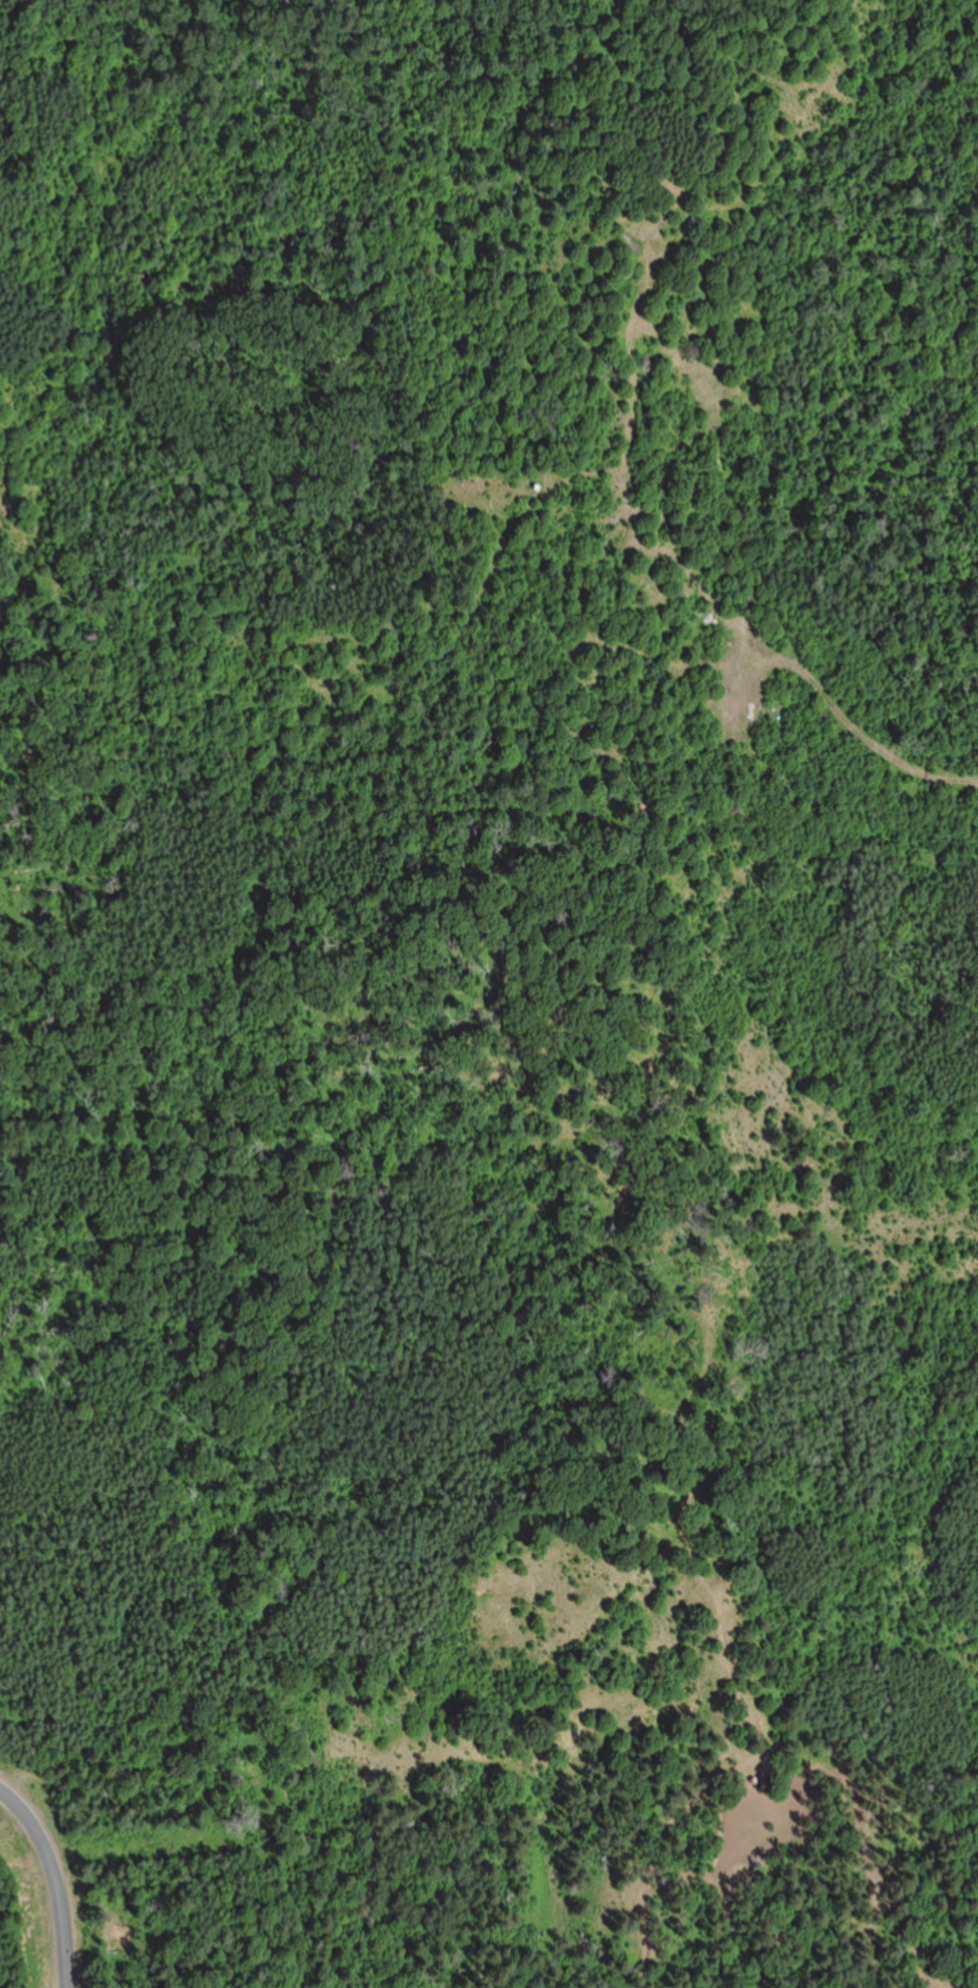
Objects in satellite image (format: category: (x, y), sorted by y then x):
road: (58, 1873)

